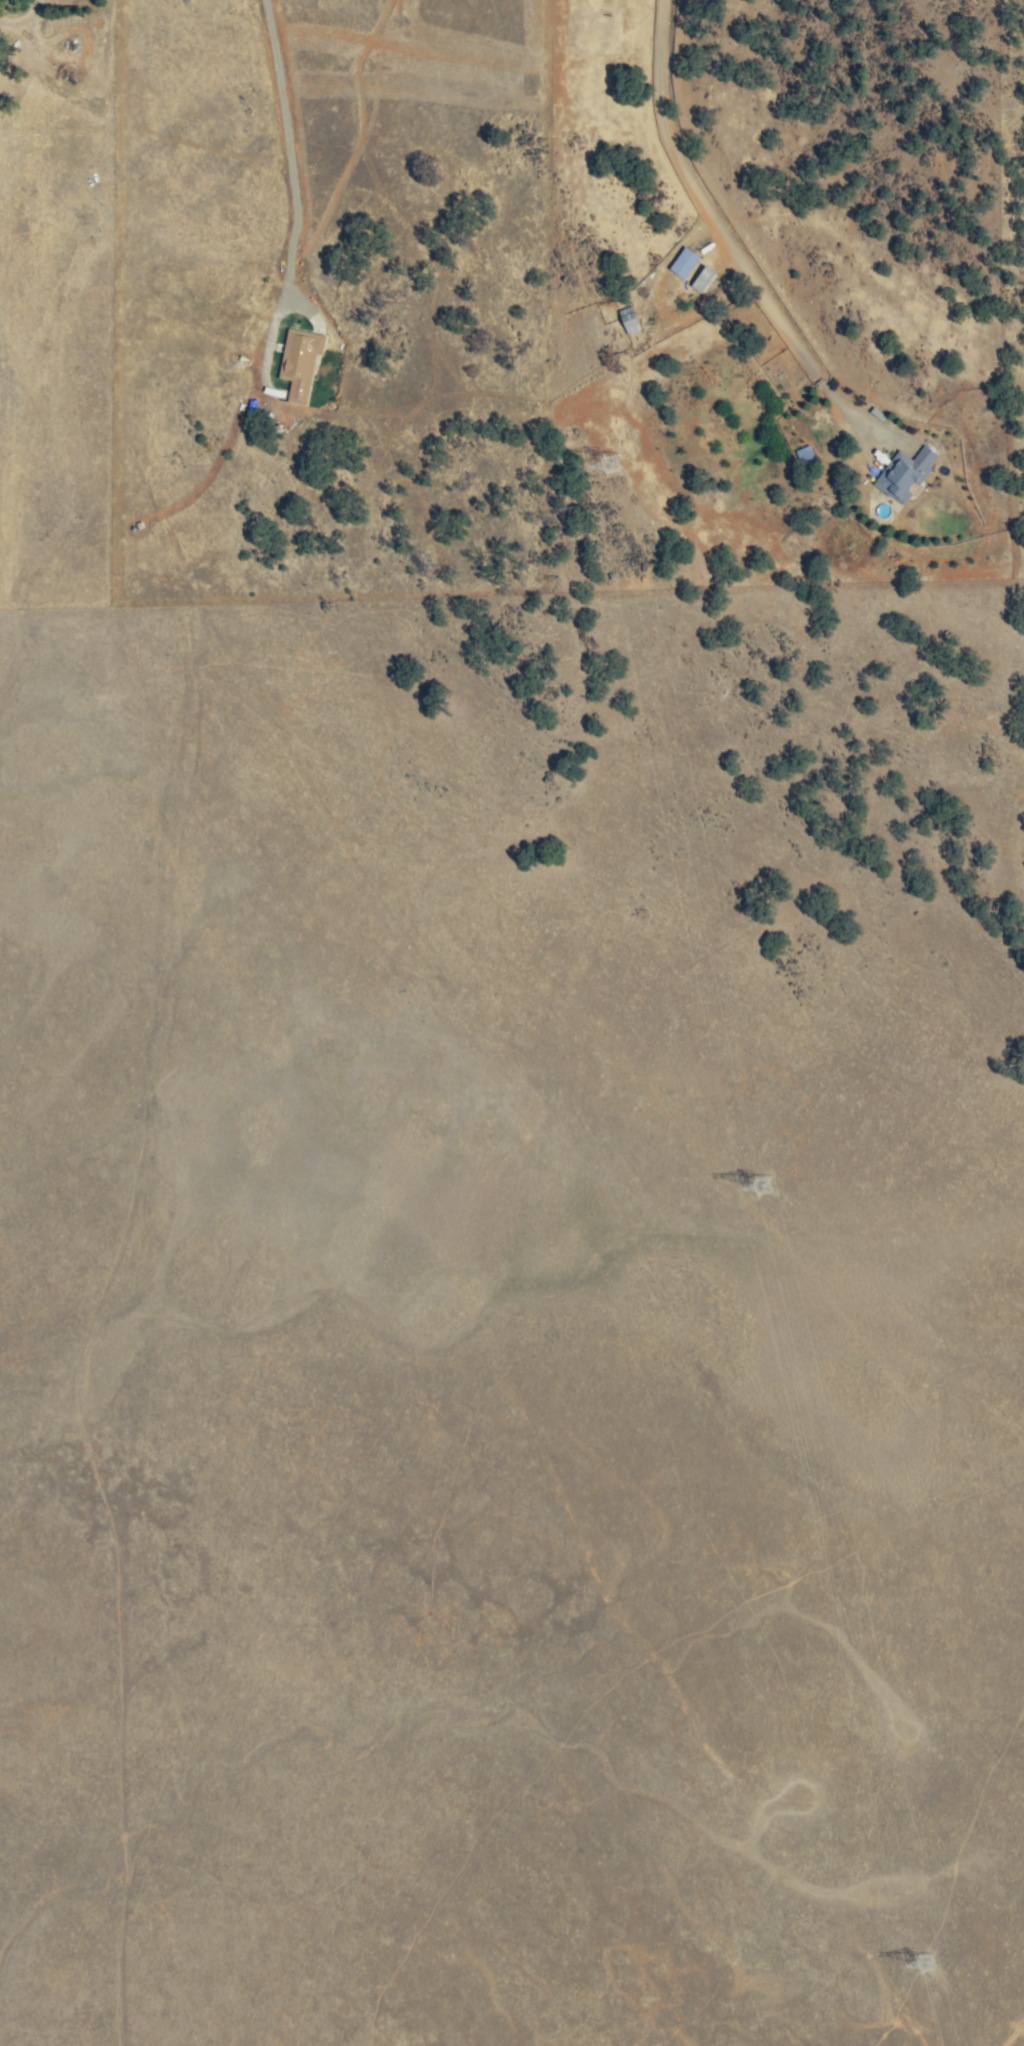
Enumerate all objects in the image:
road: (287, 150)
road: (710, 222)
building: (682, 264)
building: (701, 280)
building: (298, 364)
power tower: (622, 459)
building: (903, 474)
power tower: (772, 1188)
power tower: (935, 1966)

